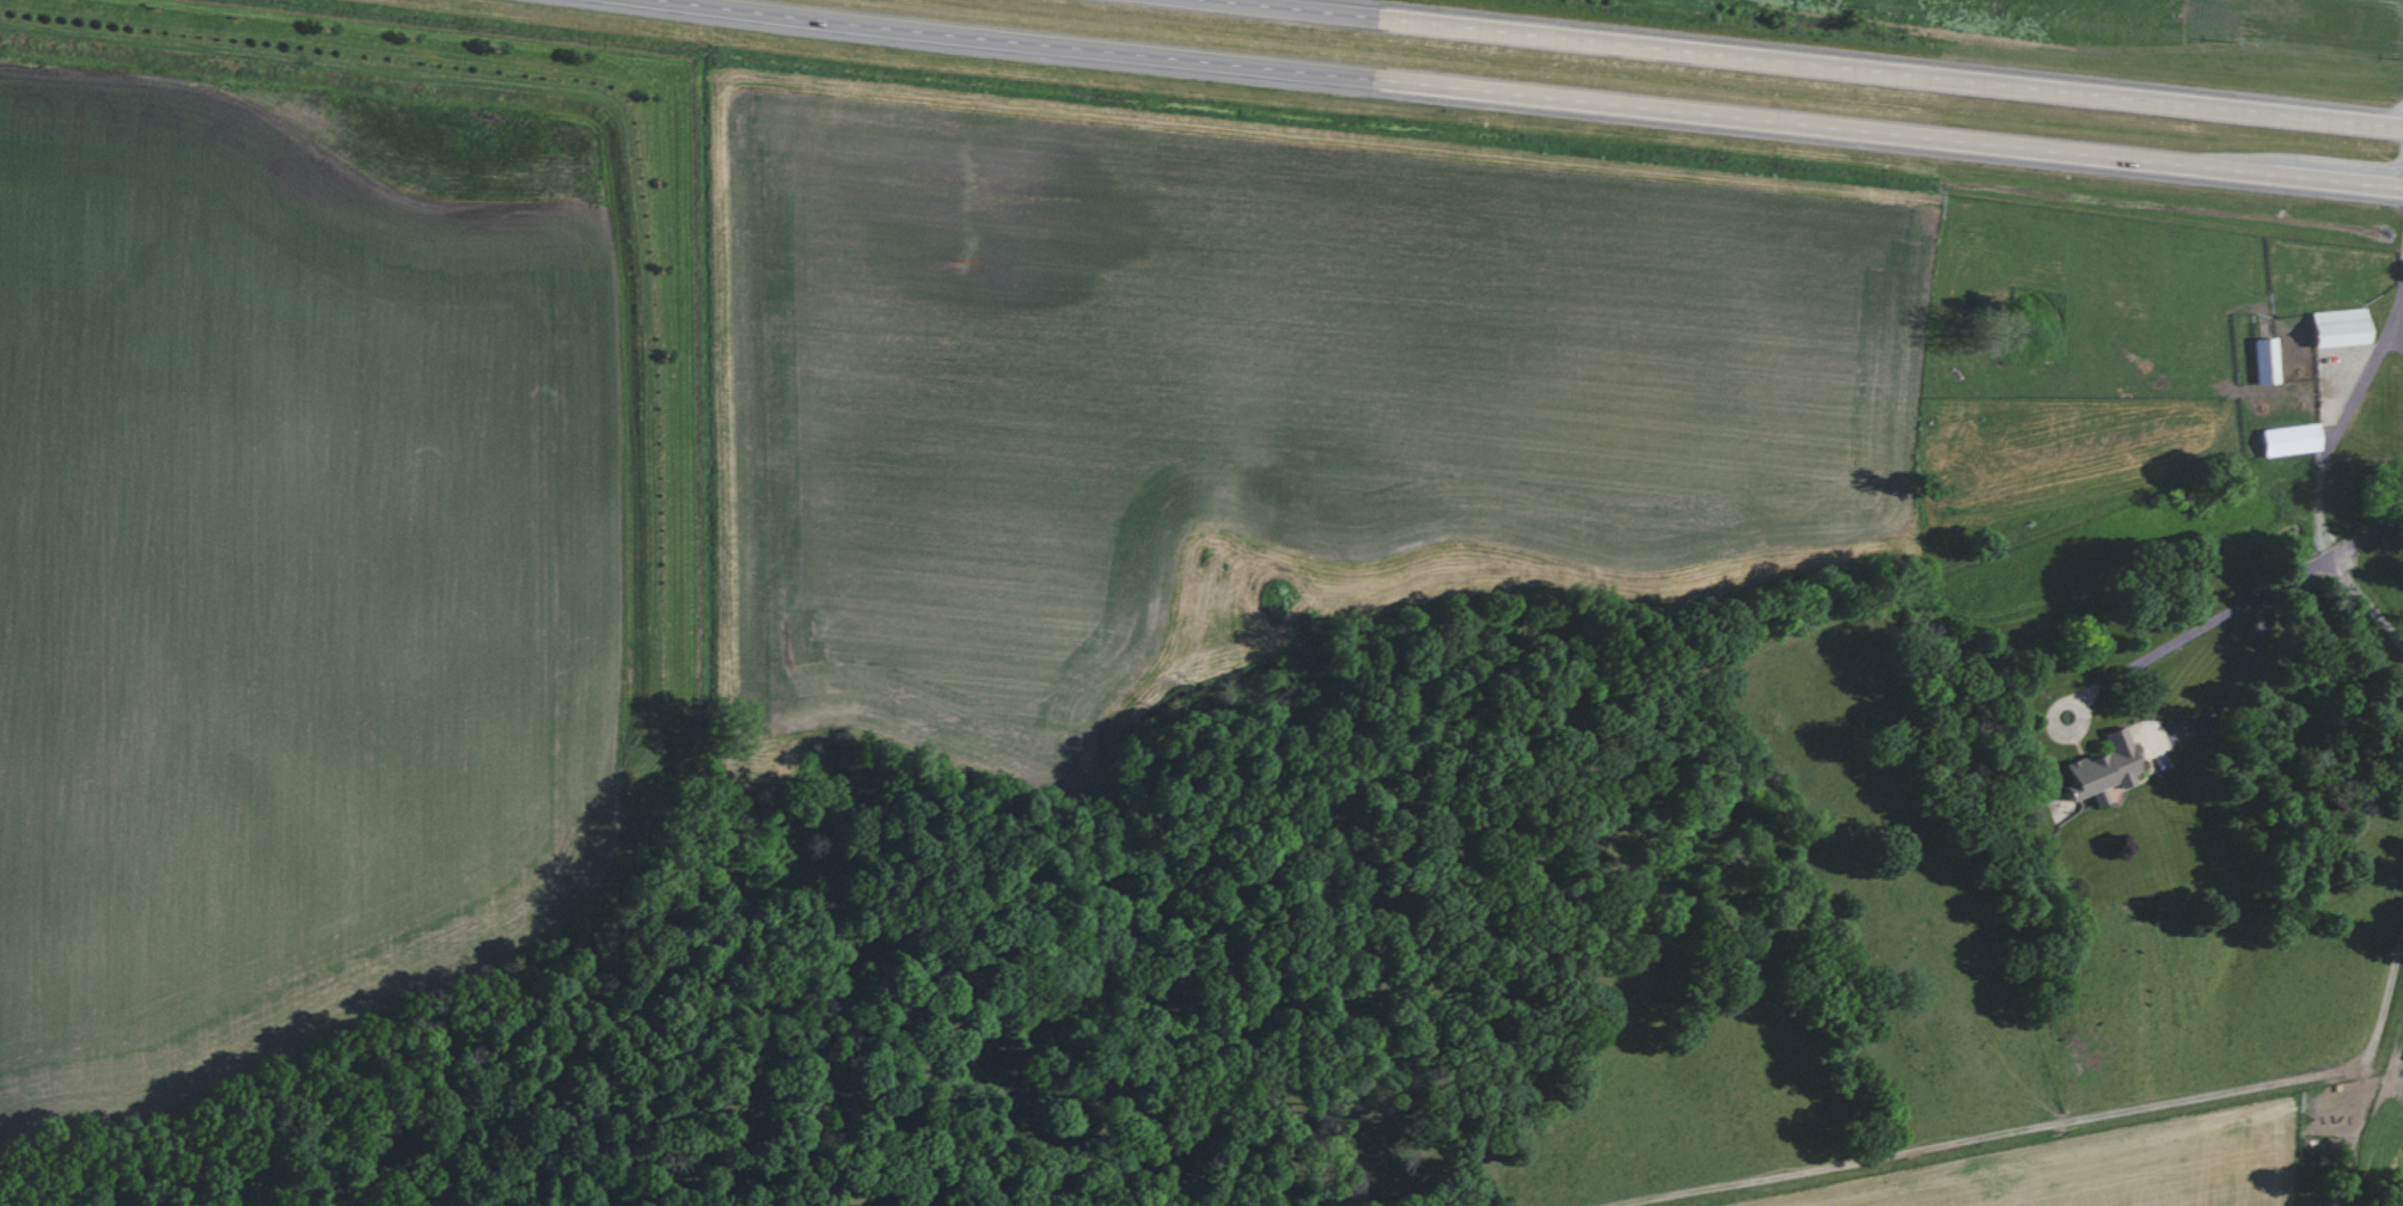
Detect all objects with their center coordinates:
road: (1802, 65)
road: (1531, 98)
building: (2337, 325)
building: (2263, 359)
building: (2291, 437)
road: (2225, 610)
road: (2242, 678)
building: (2101, 765)

